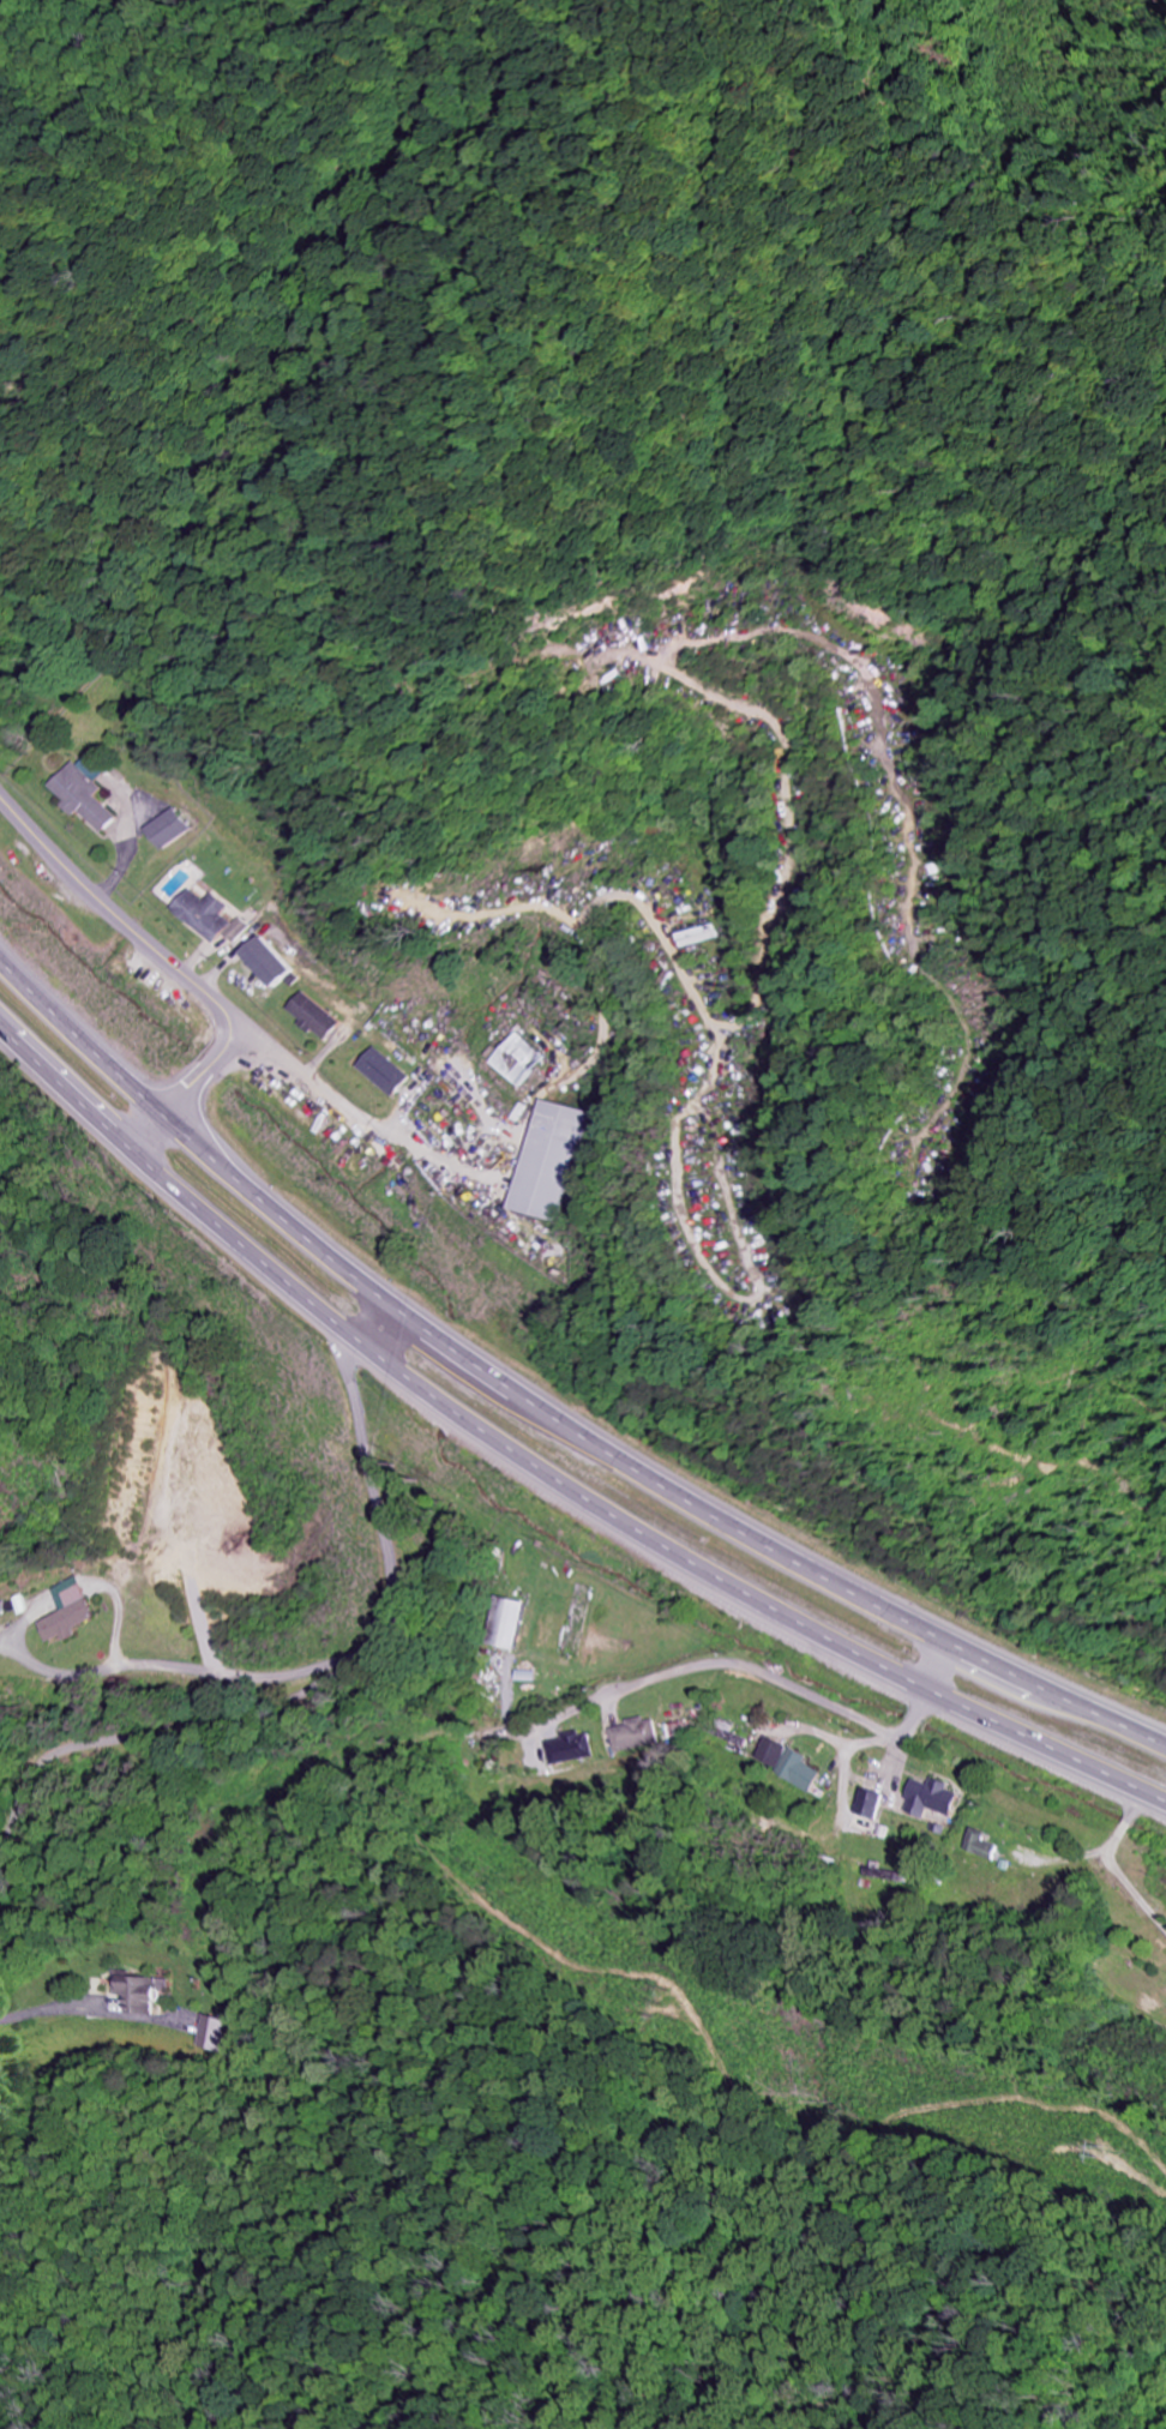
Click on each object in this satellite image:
building: (85, 793)
building: (166, 829)
building: (199, 914)
building: (264, 962)
road: (174, 969)
building: (311, 1017)
road: (83, 1035)
building: (518, 1059)
building: (383, 1072)
road: (64, 1096)
building: (547, 1161)
road: (643, 1468)
road: (621, 1525)
building: (65, 1612)
building: (507, 1624)
road: (944, 1671)
building: (636, 1734)
building: (570, 1749)
building: (788, 1764)
building: (932, 1799)
building: (871, 1805)
building: (984, 1847)
building: (140, 1991)
building: (214, 2033)

